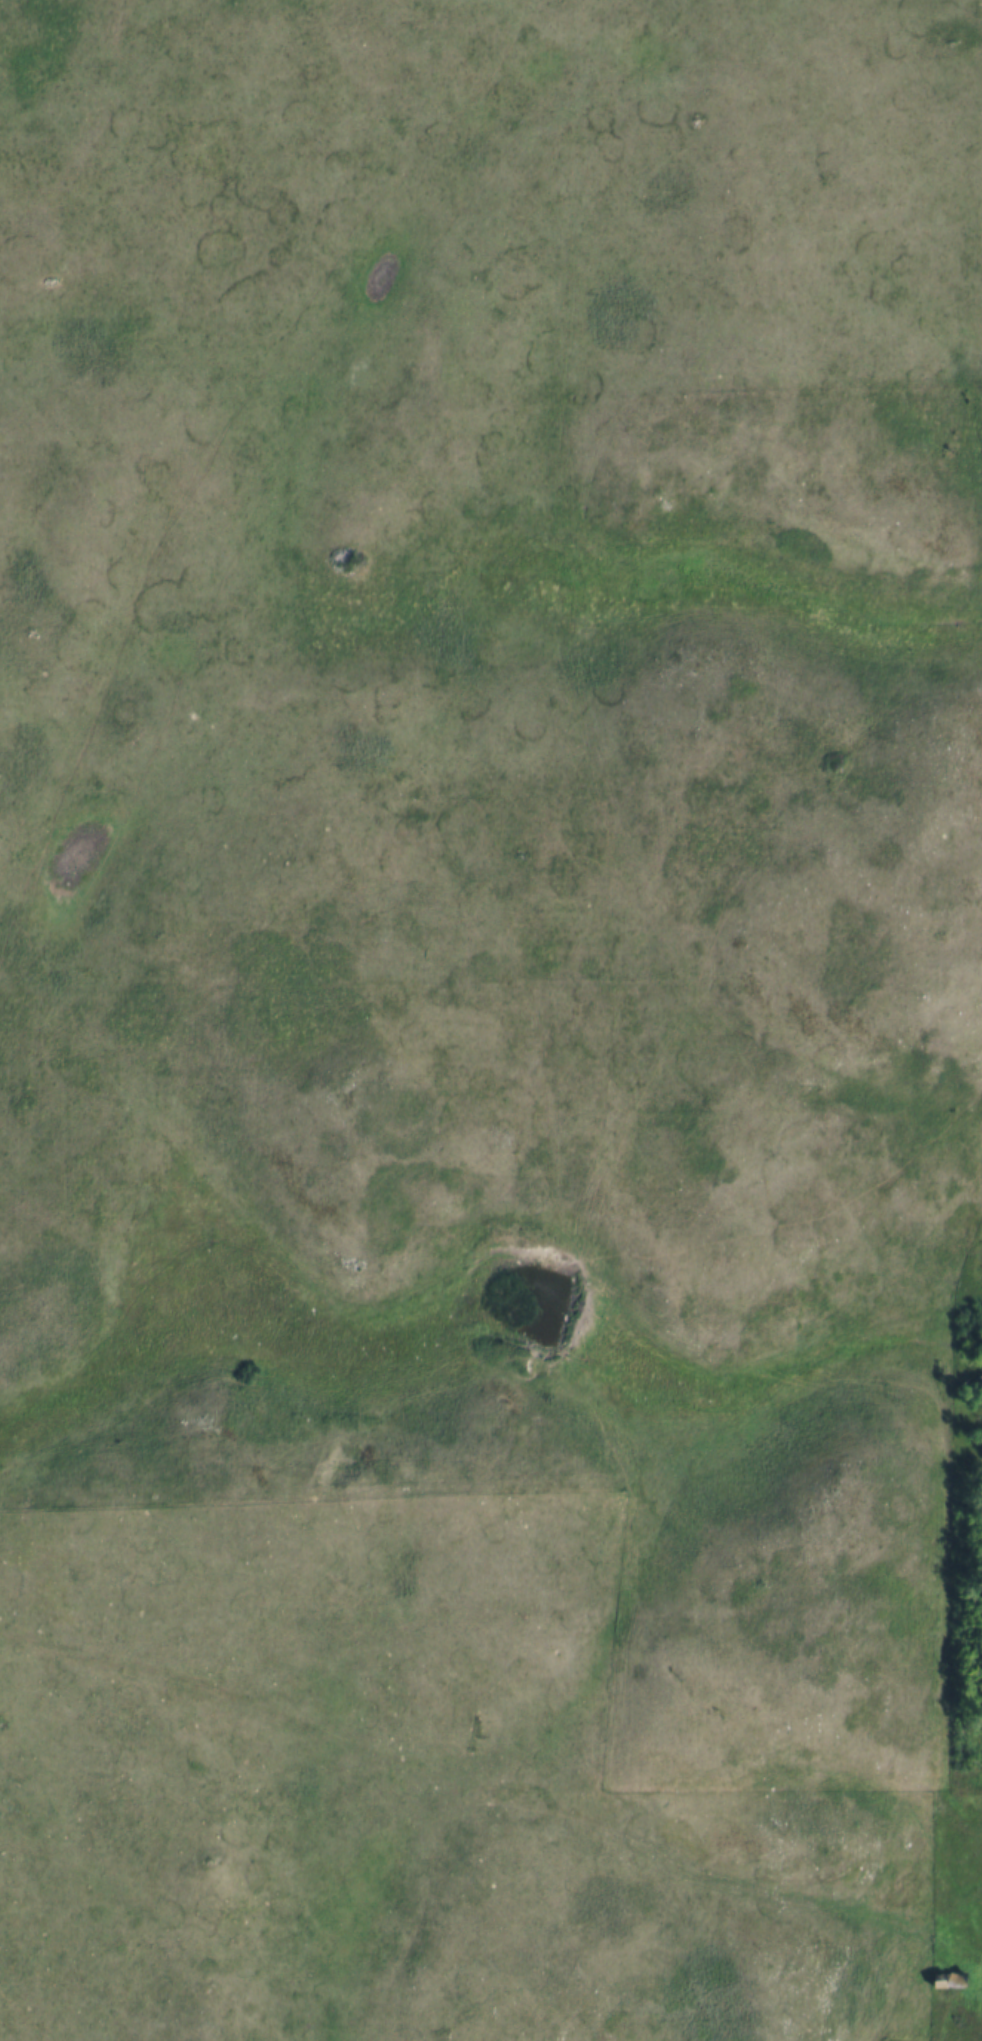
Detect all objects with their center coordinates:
building: (950, 1979)

